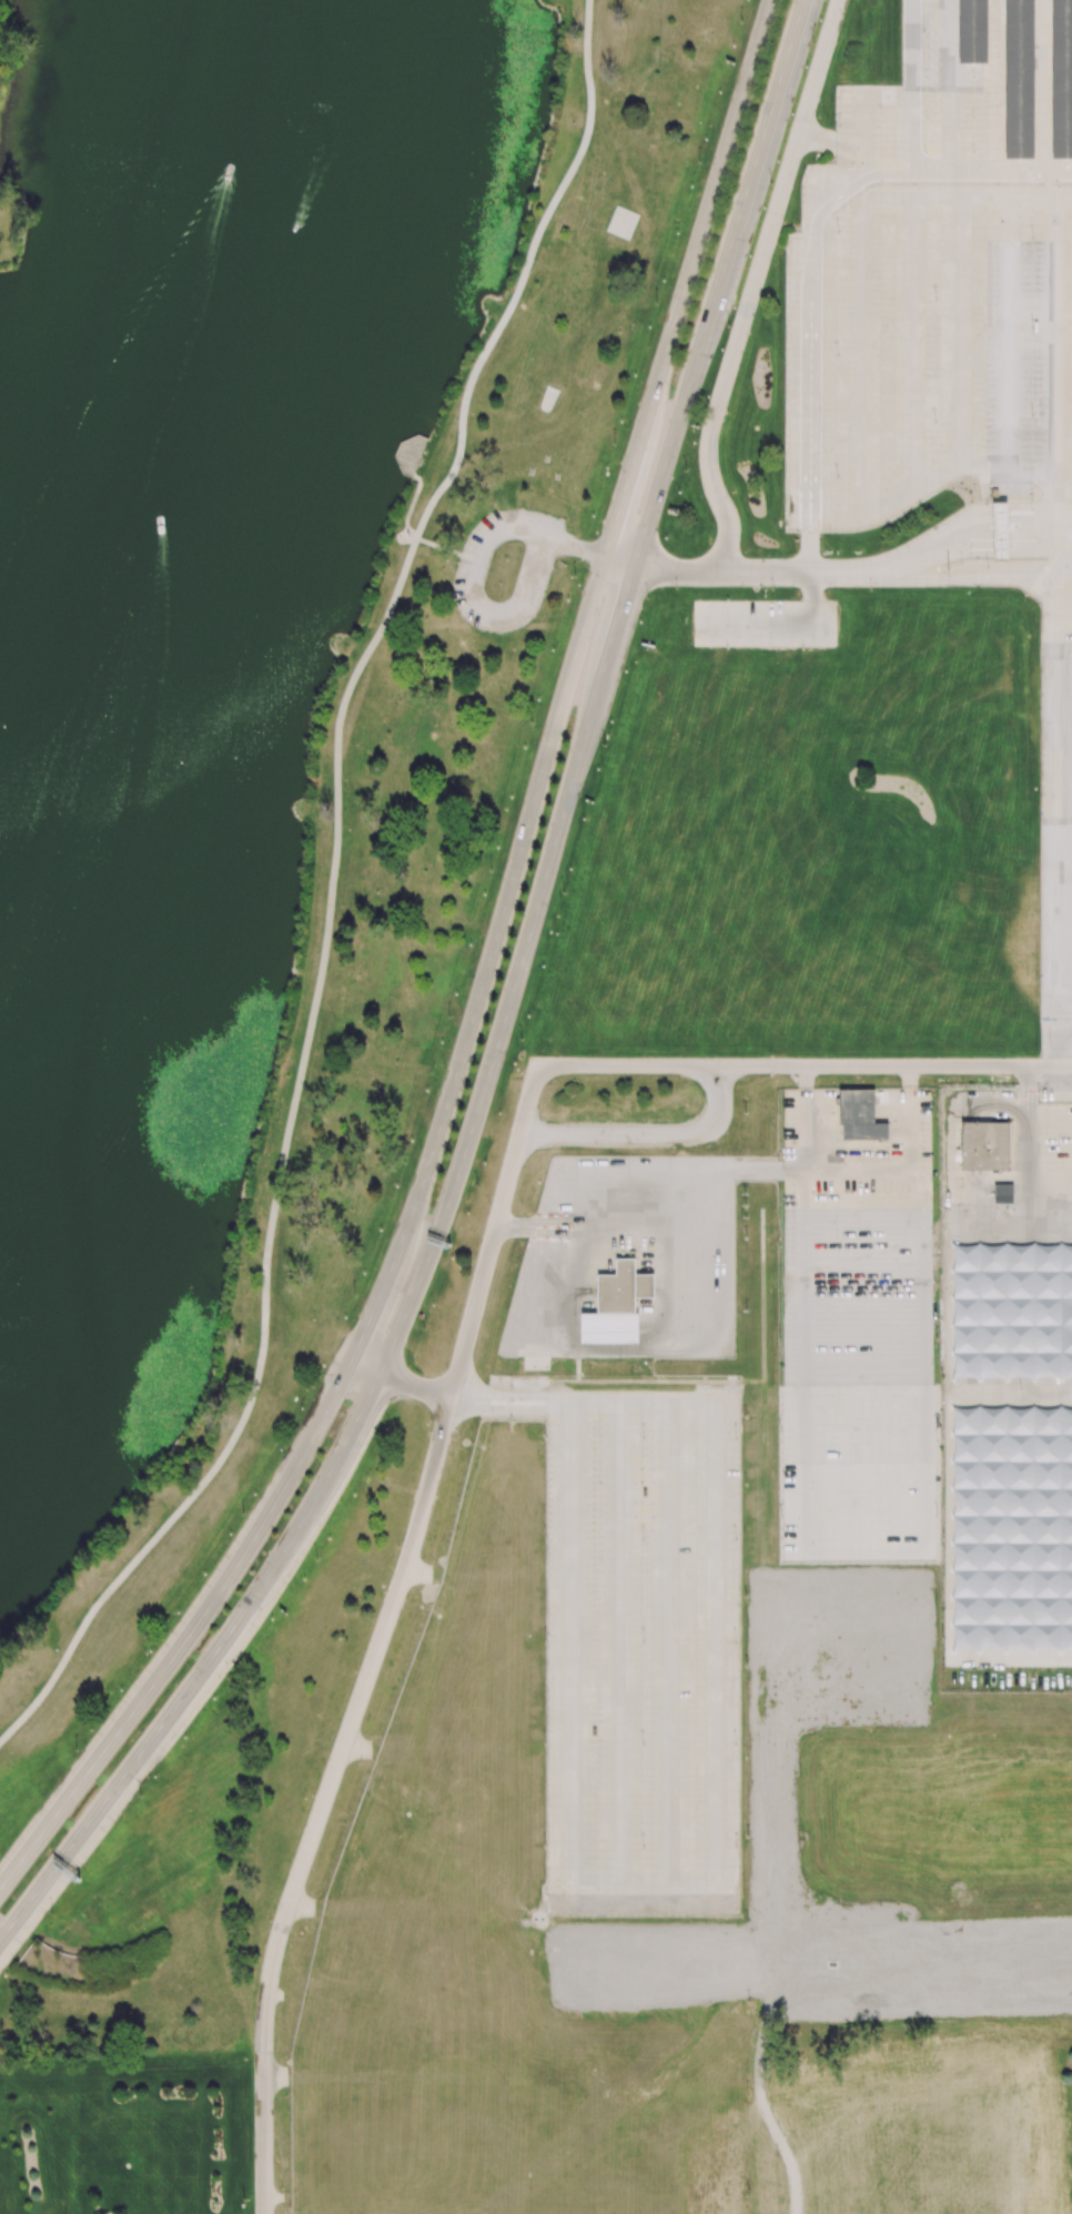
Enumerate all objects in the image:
street lamp: (819, 20)
street lamp: (740, 22)
road: (800, 23)
building: (972, 31)
street lamp: (812, 43)
road: (947, 61)
building: (1019, 79)
building: (1061, 79)
road: (995, 84)
road: (1042, 84)
road: (913, 88)
park: (29, 97)
road: (807, 103)
street lamp: (840, 127)
street lamp: (698, 162)
road: (1010, 170)
road: (859, 176)
street lamp: (772, 183)
road: (1040, 198)
road: (708, 212)
street lamp: (1034, 236)
road: (523, 274)
road: (718, 282)
street lamp: (657, 303)
street lamp: (1032, 324)
street lamp: (726, 326)
road: (1008, 330)
road: (1055, 338)
parking lot: (1028, 371)
road: (720, 390)
street lamp: (1032, 414)
street lamp: (614, 444)
pier: (408, 454)
street lamp: (684, 472)
road: (1053, 481)
road: (625, 491)
street lamp: (1032, 499)
road: (409, 506)
street lamp: (1033, 510)
road: (980, 520)
toll booth: (1002, 520)
building: (1001, 533)
road: (504, 534)
street lamp: (1034, 538)
toll booth: (1002, 546)
road: (572, 547)
road: (449, 548)
road: (941, 554)
road: (964, 555)
street lamp: (961, 560)
street lamp: (454, 562)
street lamp: (989, 567)
parking lot: (535, 568)
street lamp: (555, 569)
road: (660, 570)
street lamp: (574, 575)
road: (942, 579)
street lamp: (676, 589)
street lamp: (771, 589)
street lamp: (871, 589)
street lamp: (647, 597)
street lamp: (728, 597)
street lamp: (801, 597)
road: (512, 609)
road: (615, 627)
street lamp: (728, 648)
street lamp: (803, 649)
park: (273, 688)
street lamp: (530, 722)
parking lot: (838, 742)
street lamp: (604, 744)
road: (846, 779)
road: (570, 785)
road: (746, 801)
road: (1053, 801)
street lamp: (492, 872)
street lamp: (562, 892)
road: (523, 957)
road: (488, 960)
street lamp: (449, 1018)
street lamp: (520, 1040)
road: (812, 1065)
building: (859, 1116)
road: (645, 1134)
building: (984, 1146)
street lamp: (405, 1161)
road: (854, 1170)
road: (280, 1174)
street lamp: (476, 1185)
building: (1002, 1193)
road: (447, 1205)
road: (614, 1226)
airport: (776, 1291)
street lamp: (354, 1296)
building: (616, 1305)
street lamp: (459, 1312)
street lamp: (424, 1328)
road: (666, 1348)
road: (367, 1364)
road: (868, 1375)
road: (415, 1385)
street lamp: (311, 1387)
road: (583, 1398)
street lamp: (429, 1421)
street lamp: (387, 1429)
street lamp: (353, 1494)
street lamp: (241, 1514)
street lamp: (327, 1537)
street lamp: (315, 1559)
street lamp: (164, 1635)
road: (192, 1635)
road: (206, 1666)
street lamp: (230, 1679)
road: (348, 1735)
street lamp: (75, 1749)
street lamp: (140, 1796)
park: (183, 1843)
street lamp: (50, 1913)
road: (277, 2076)
road: (859, 2120)
road: (264, 2145)

